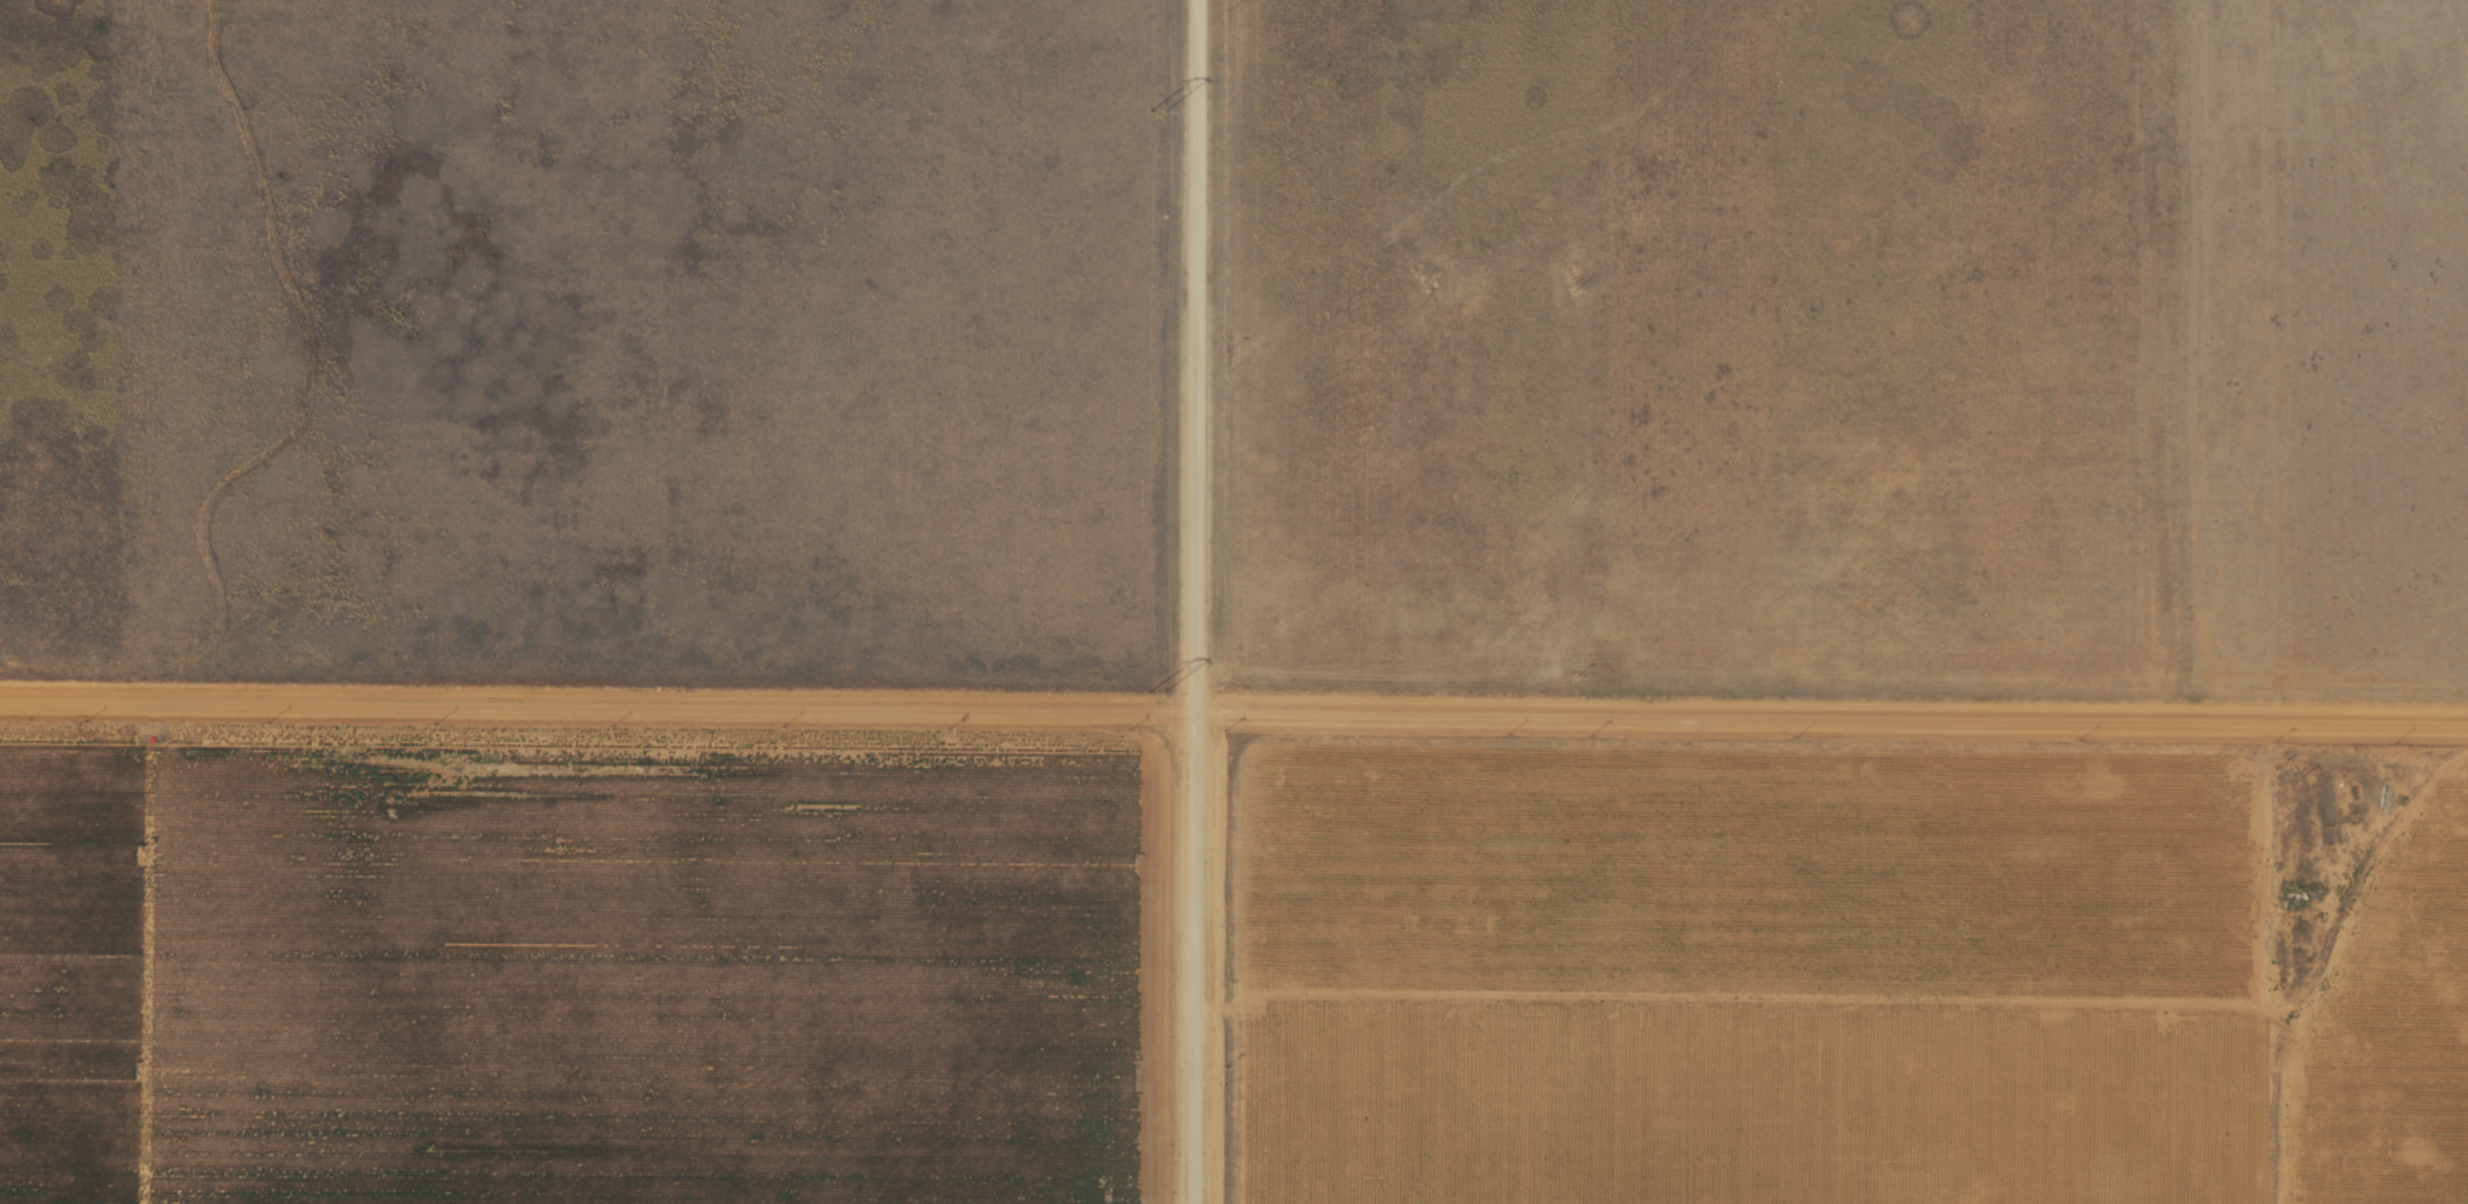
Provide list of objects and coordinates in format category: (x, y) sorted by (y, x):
power tower: (1154, 110)
road: (2213, 355)
road: (1221, 602)
power tower: (1152, 690)
road: (1233, 706)

